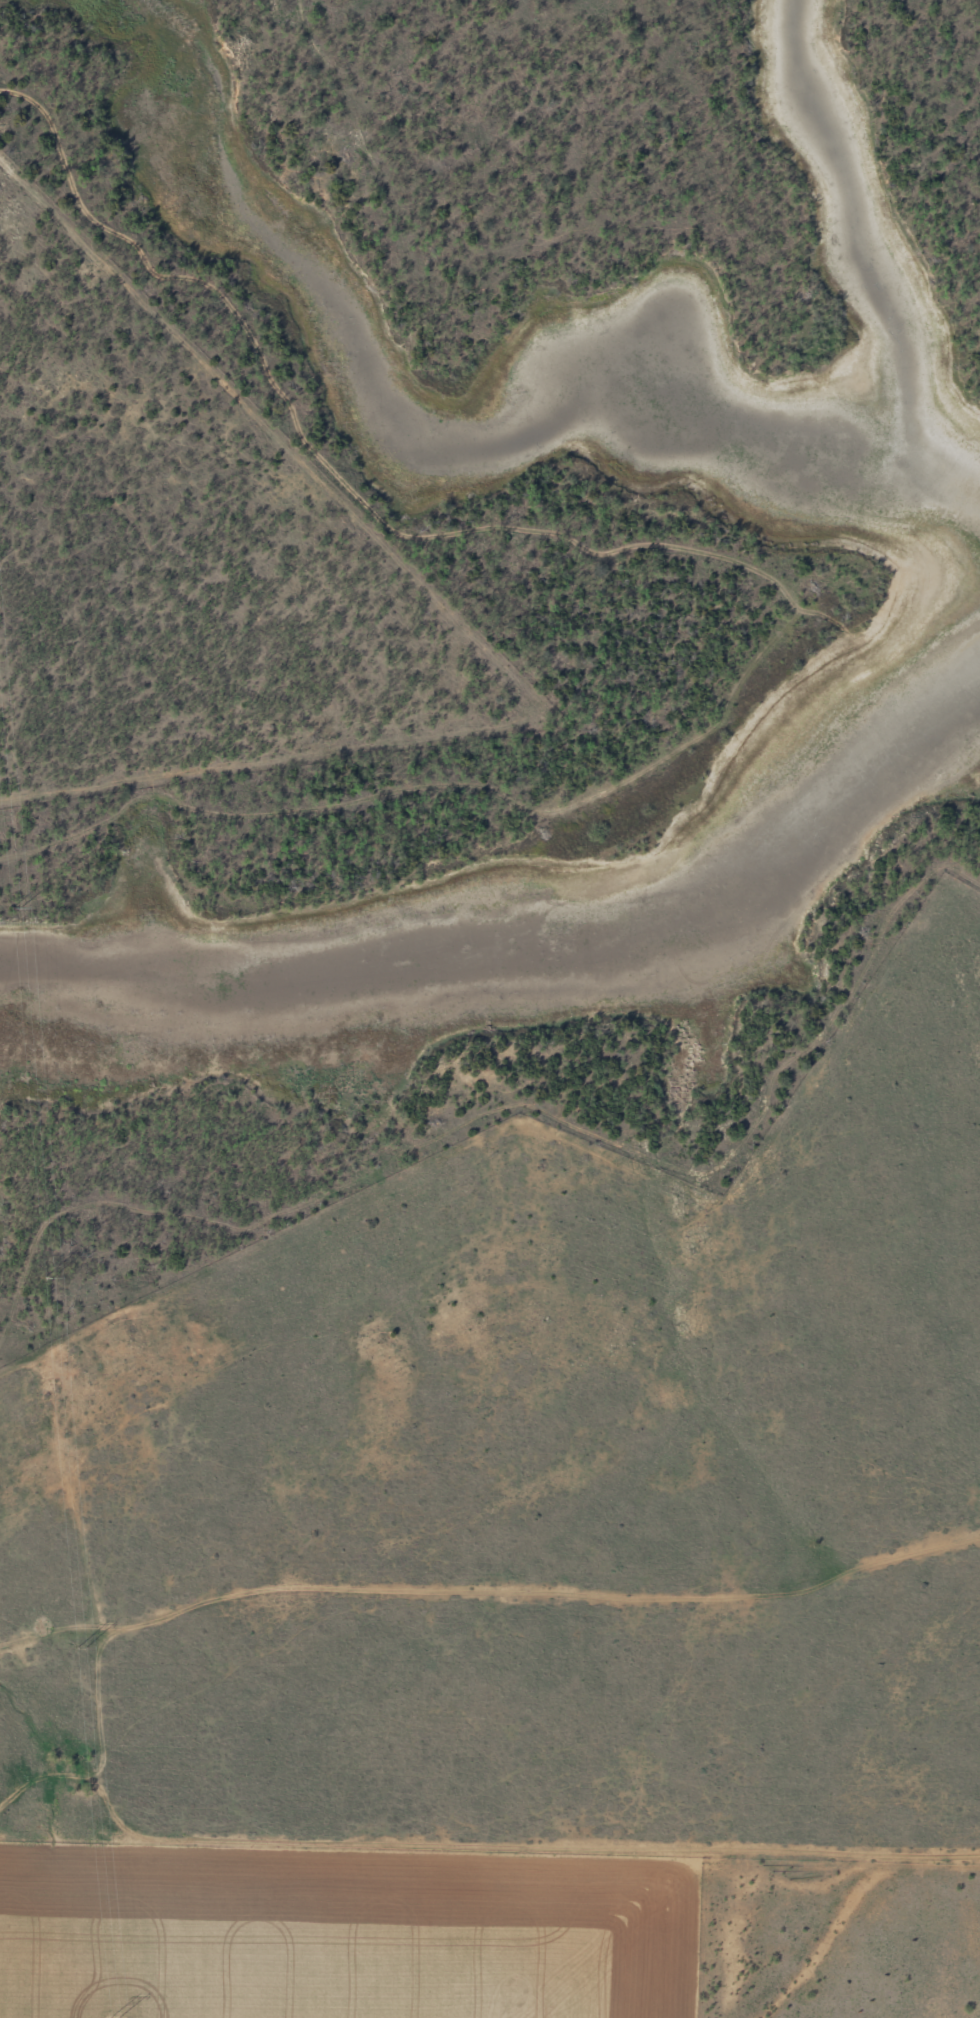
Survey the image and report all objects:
power tower: (18, 909)
power tower: (51, 1278)
road: (483, 1589)
power tower: (84, 1649)

